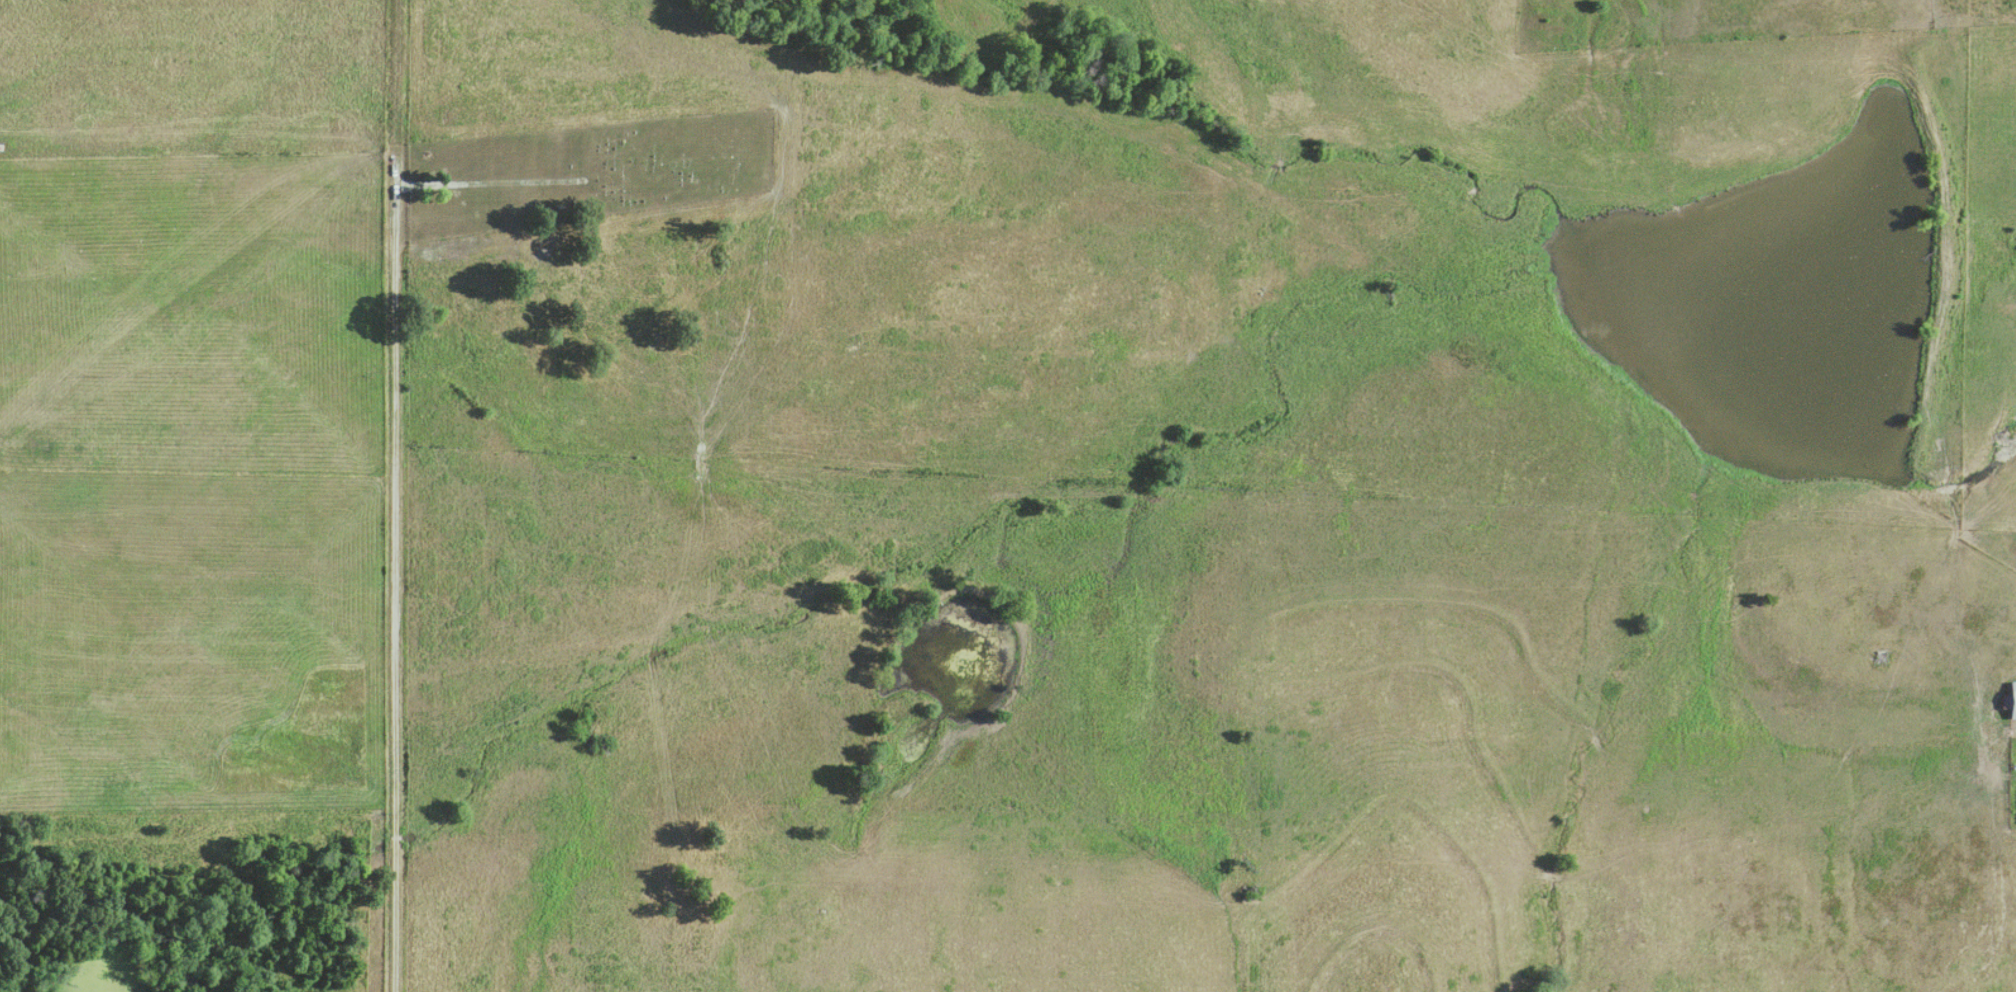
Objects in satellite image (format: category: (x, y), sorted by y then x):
park: (591, 171)
road: (394, 575)

